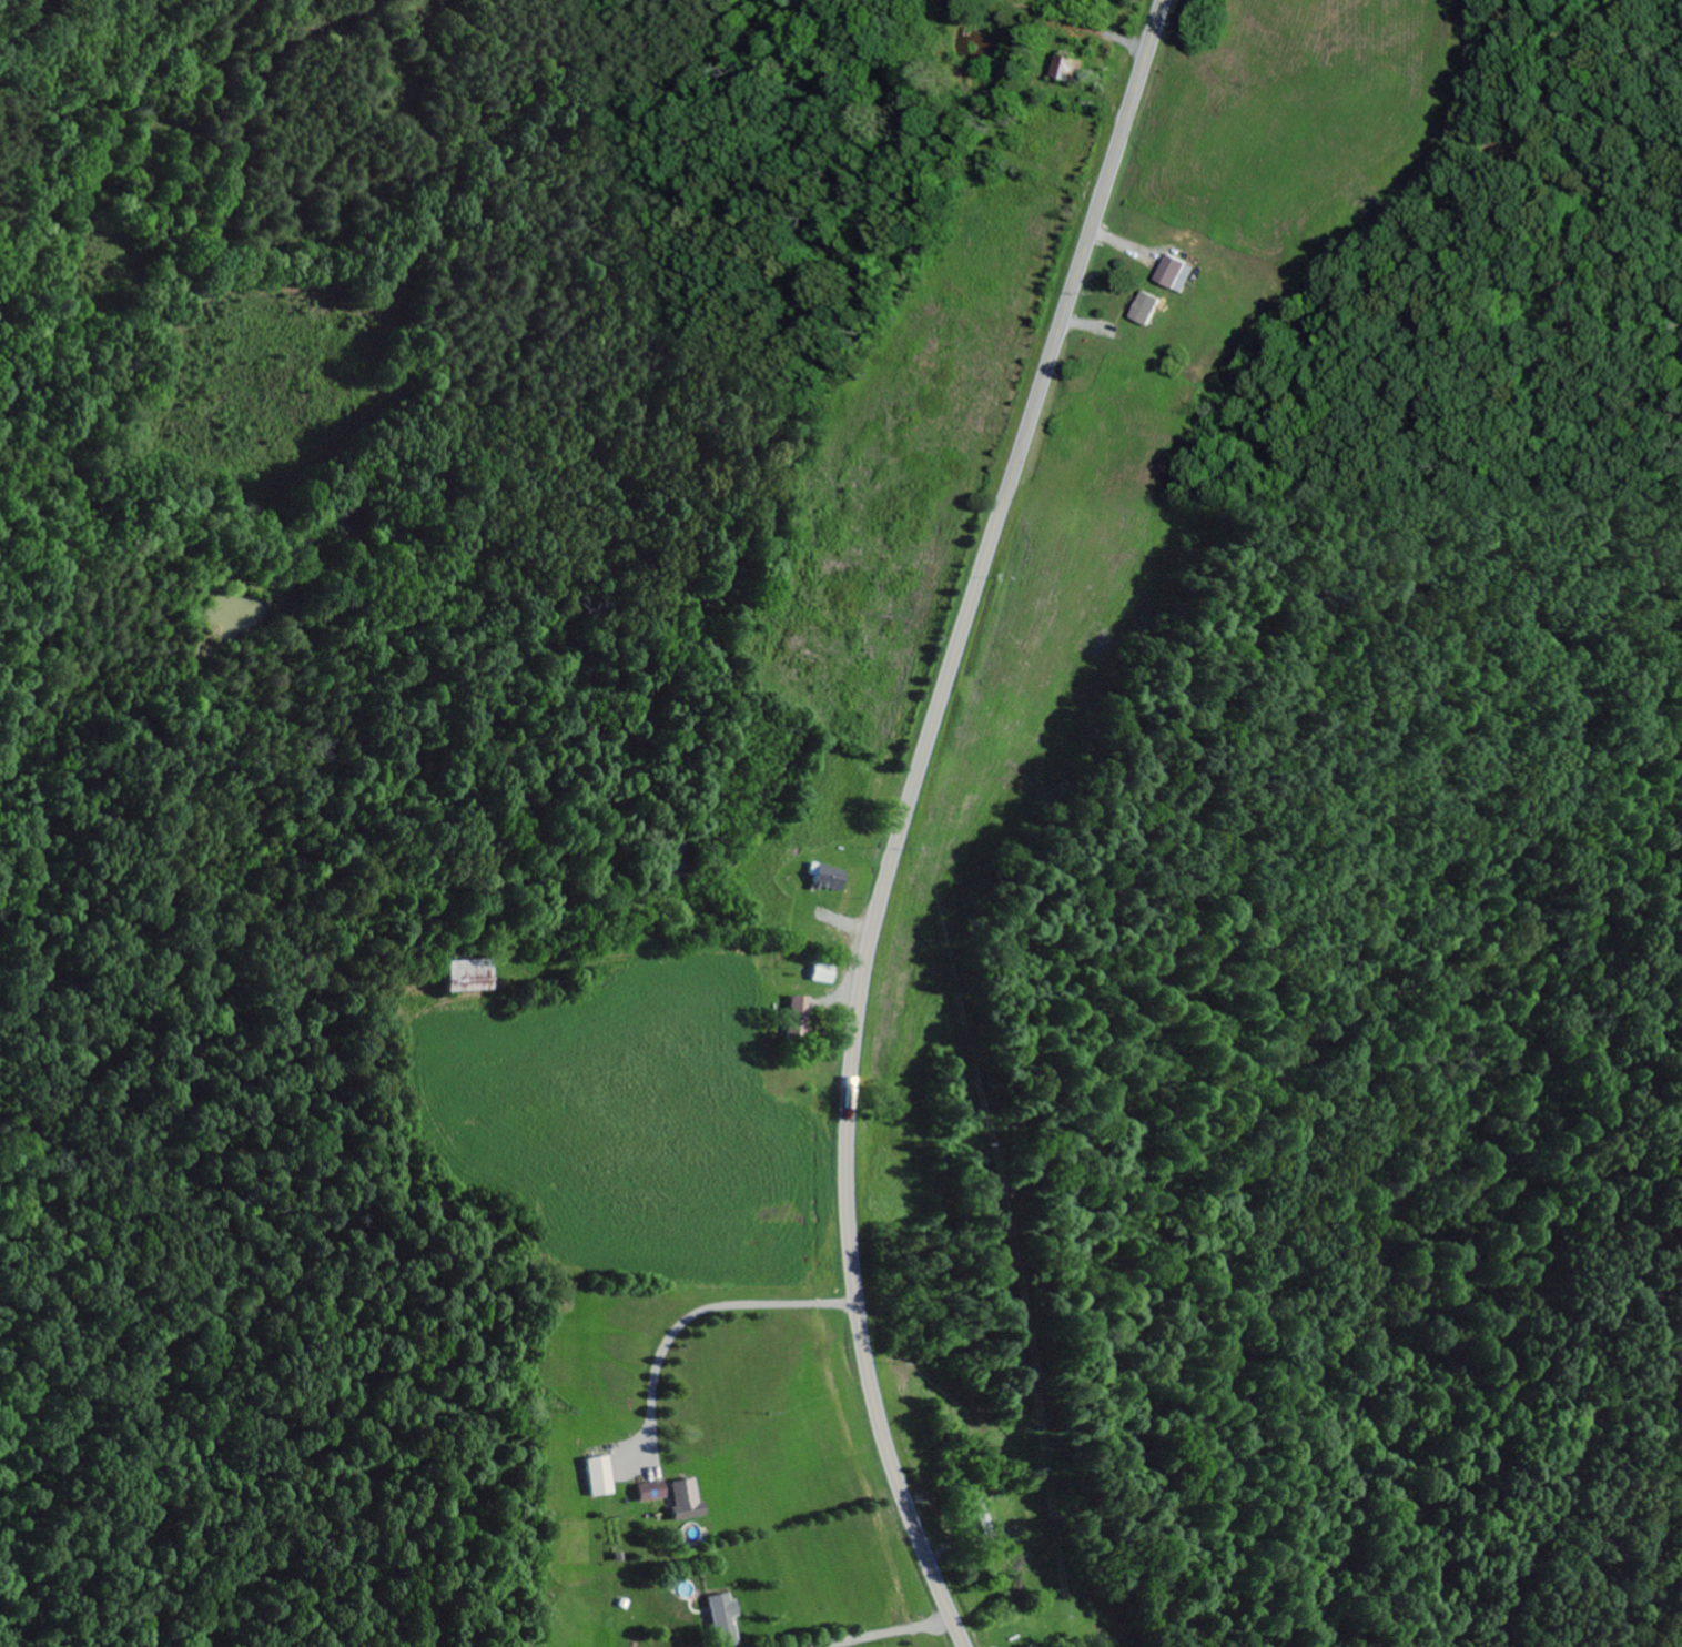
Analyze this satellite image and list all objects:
road: (1047, 24)
road: (266, 65)
building: (1070, 69)
building: (1178, 274)
building: (1149, 310)
road: (903, 816)
building: (831, 878)
building: (824, 973)
building: (473, 976)
building: (802, 1012)
building: (596, 1475)
building: (647, 1491)
building: (680, 1499)
building: (719, 1618)
building: (1025, 1645)

